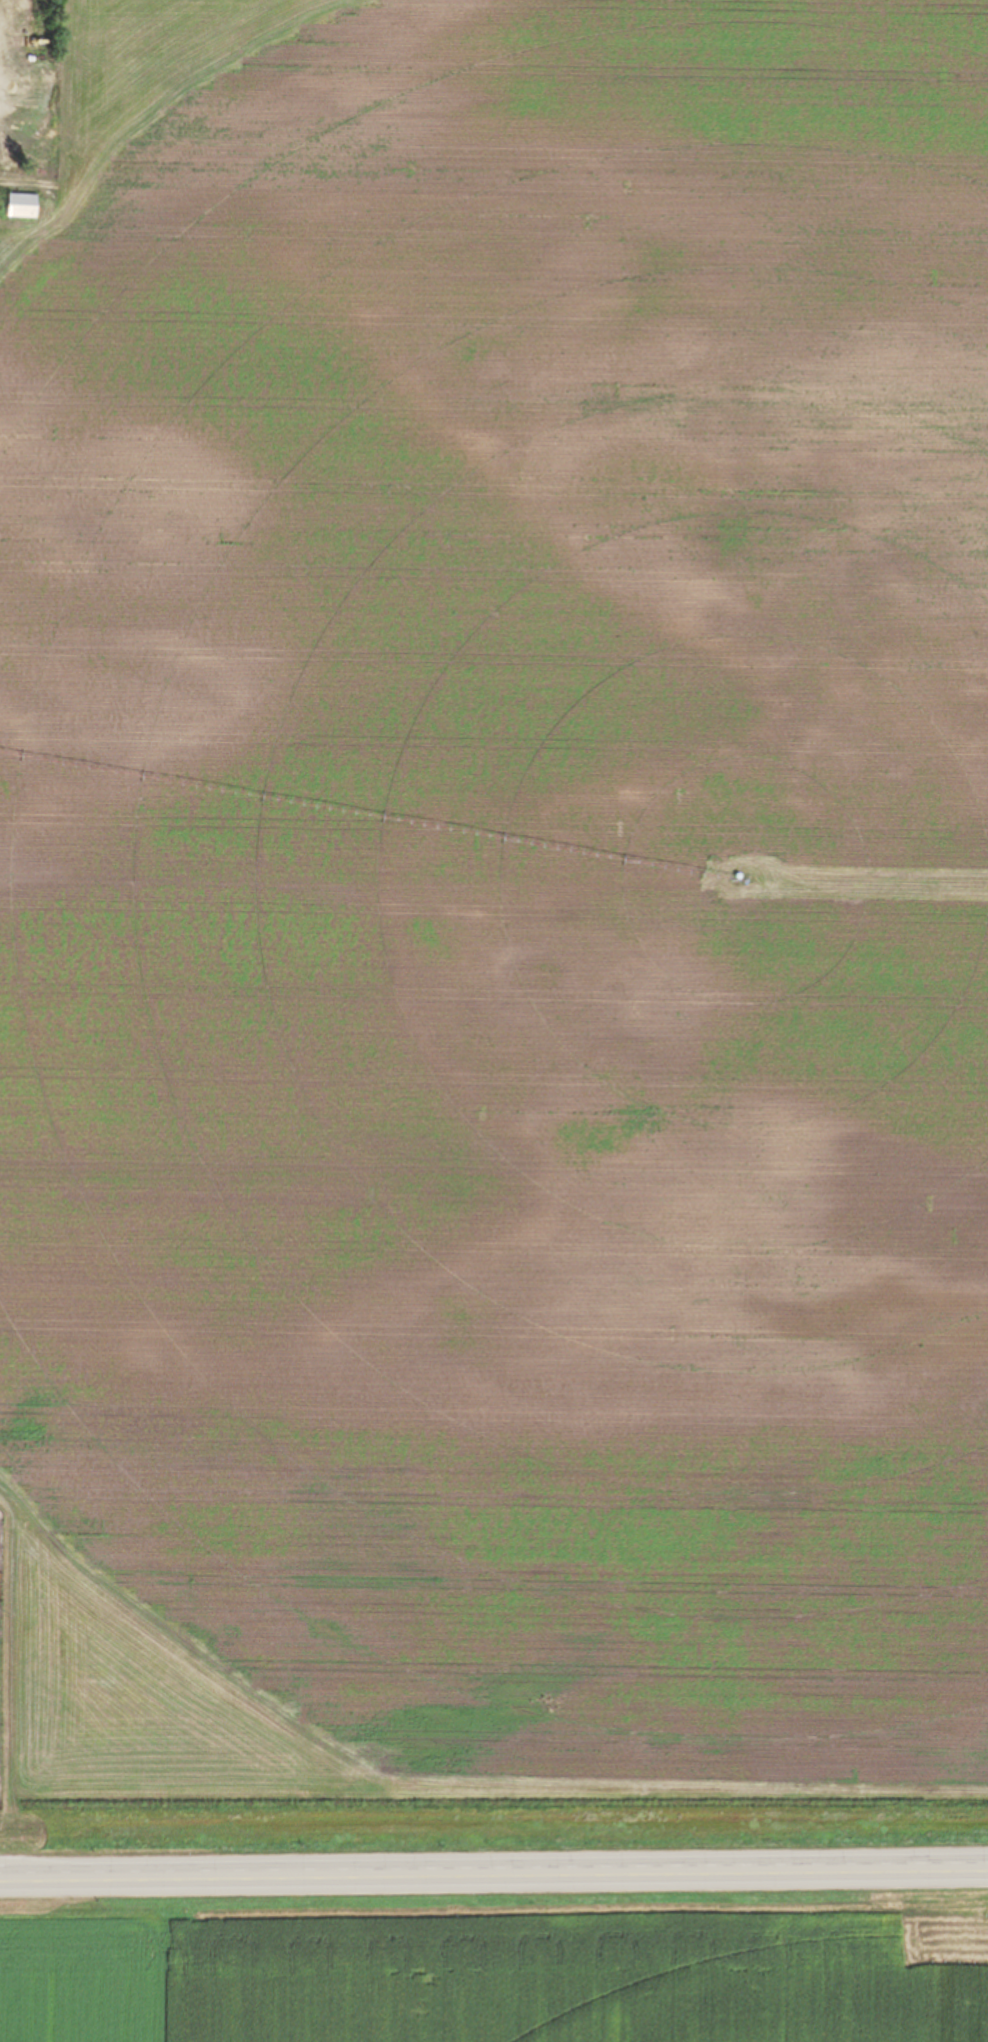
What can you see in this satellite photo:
building: (23, 207)
road: (493, 1875)

